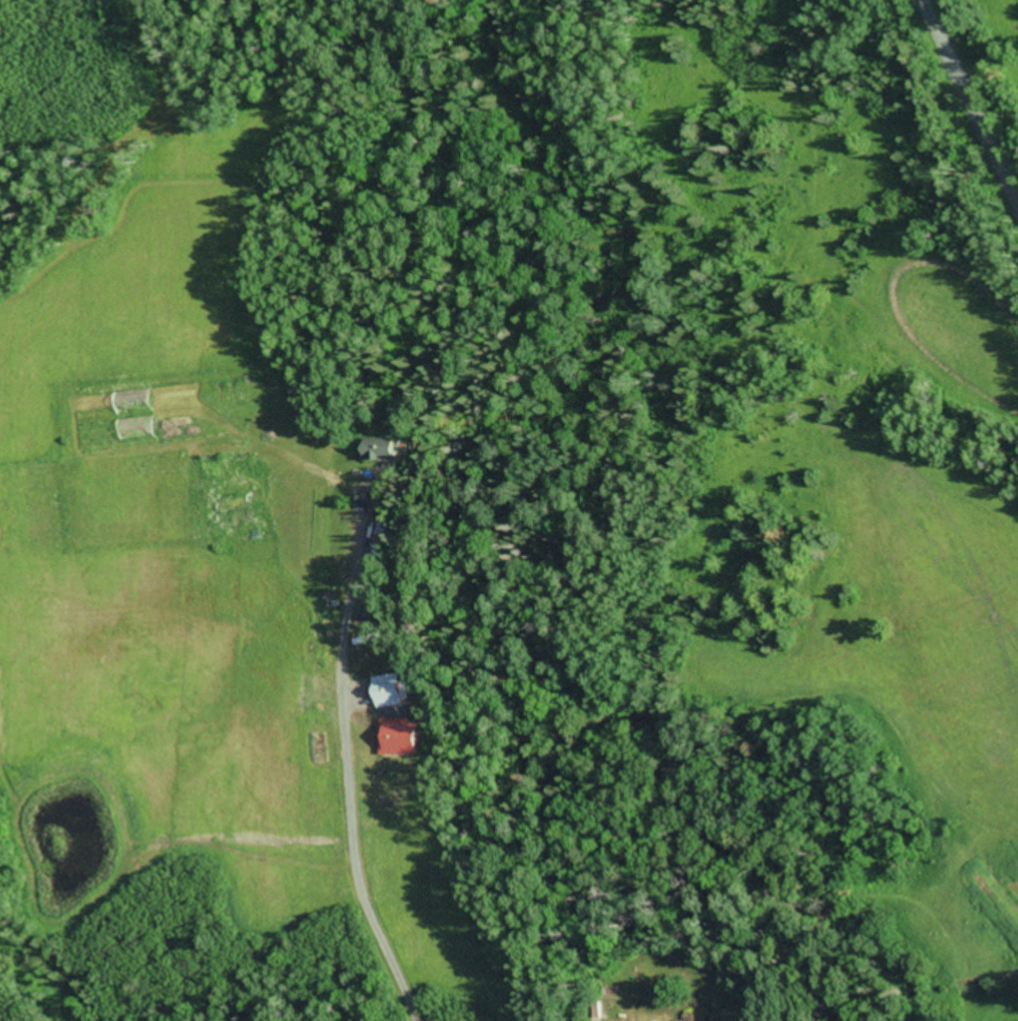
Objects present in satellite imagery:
road: (990, 57)
building: (378, 451)
building: (377, 508)
building: (386, 692)
building: (398, 738)

